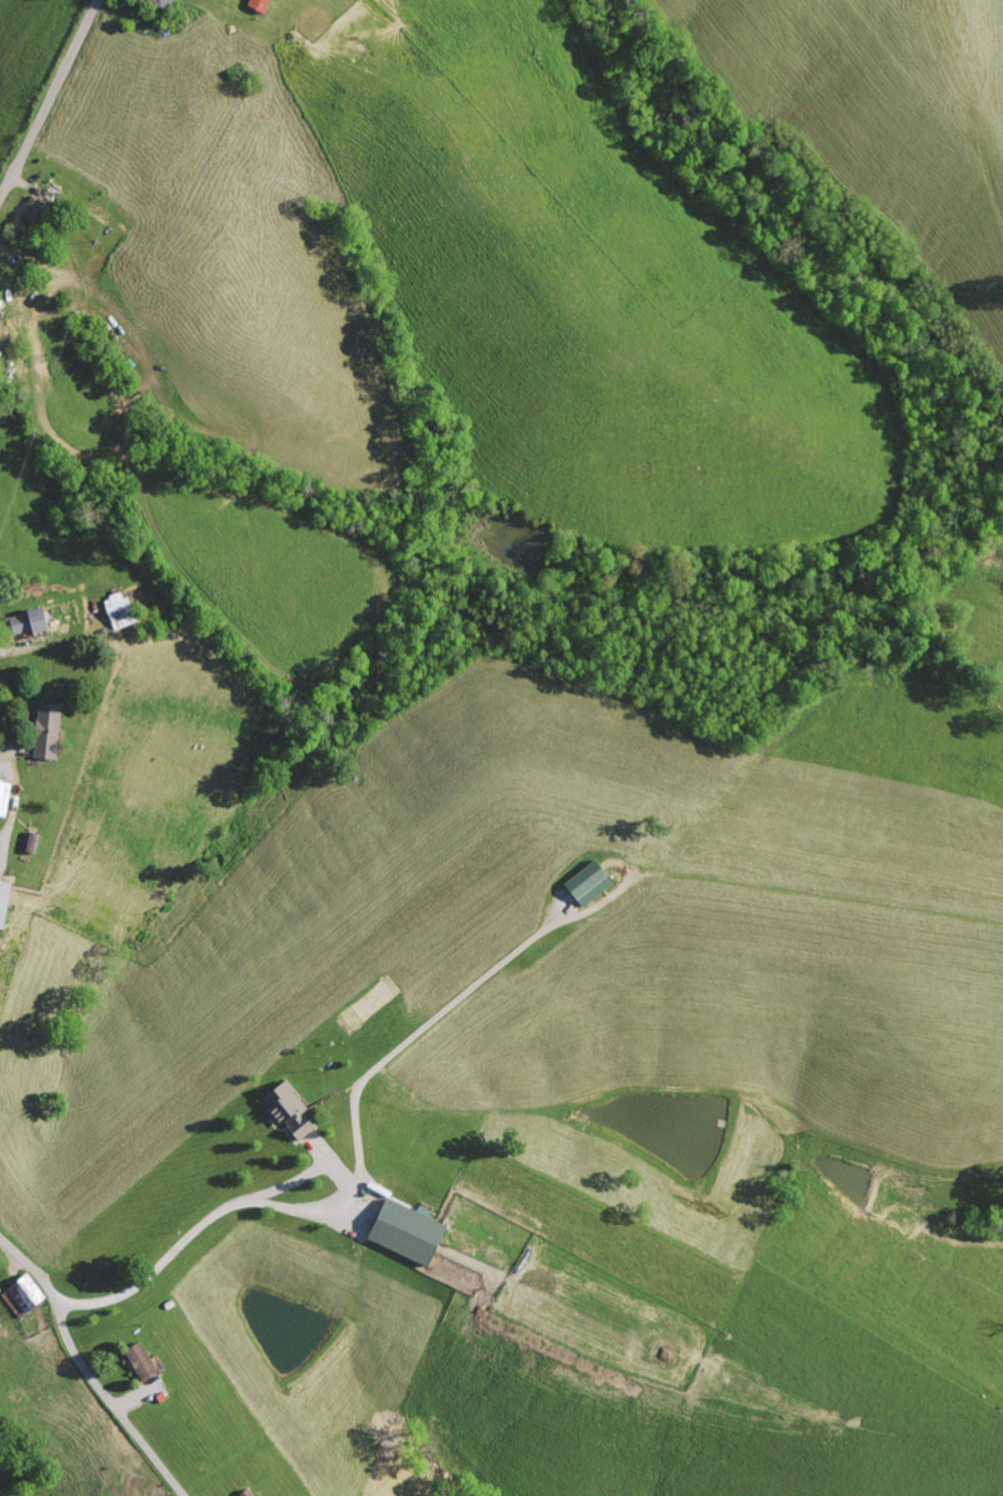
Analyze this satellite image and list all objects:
building: (255, 5)
road: (50, 98)
building: (28, 209)
building: (0, 302)
building: (114, 611)
building: (23, 622)
building: (42, 732)
building: (3, 798)
building: (28, 843)
building: (583, 884)
building: (2, 901)
building: (282, 1111)
building: (401, 1232)
road: (182, 1237)
building: (18, 1296)
building: (136, 1362)
road: (84, 1370)
building: (242, 1492)

